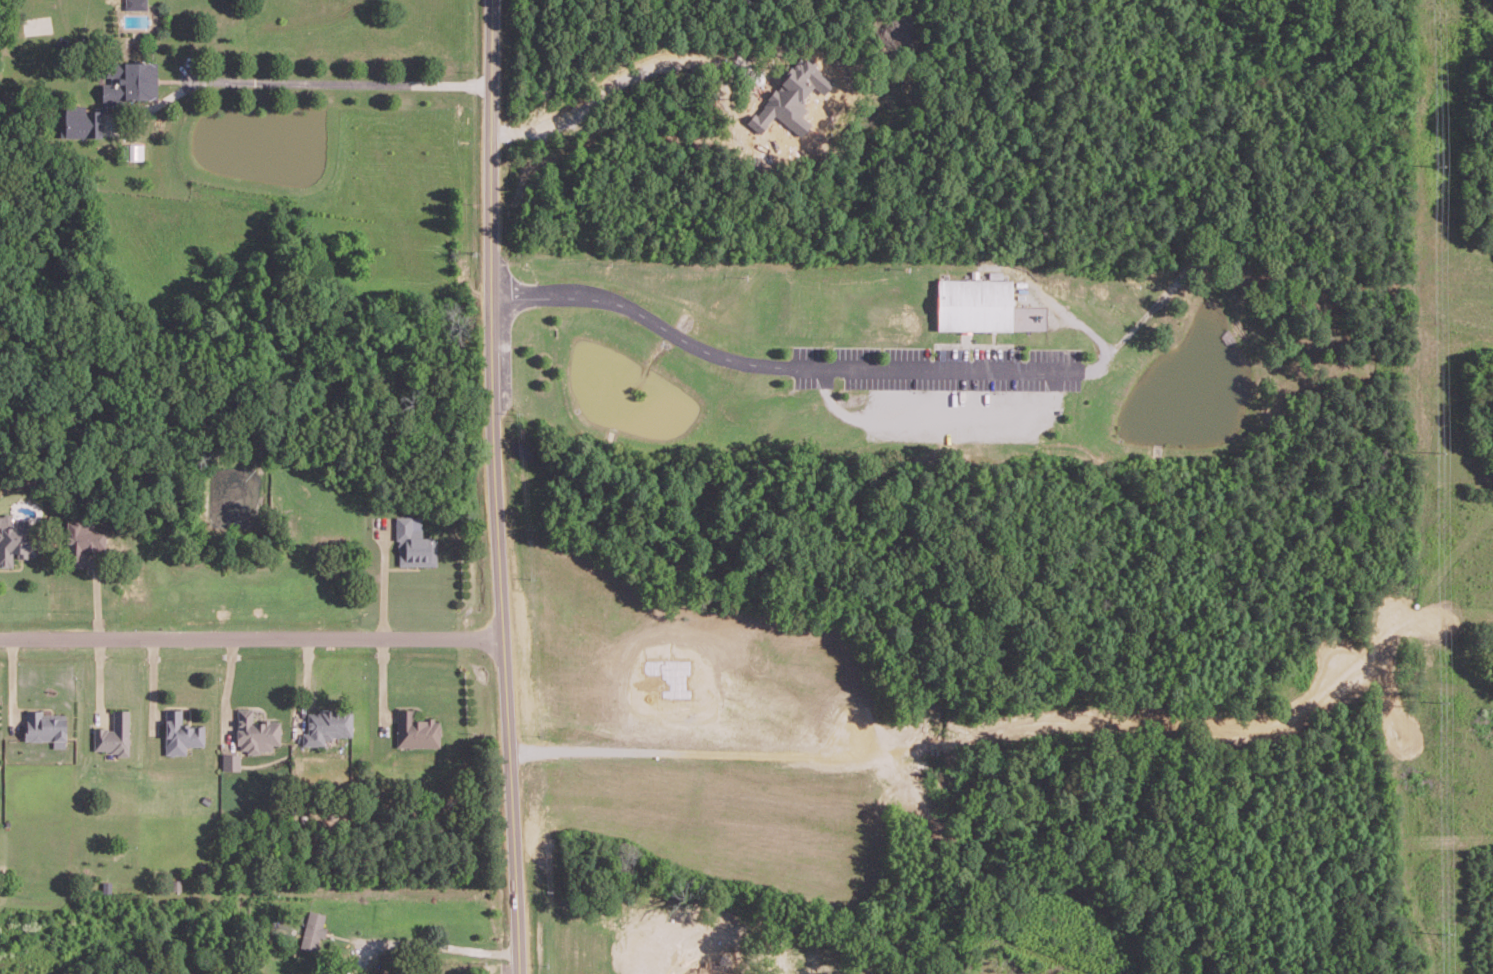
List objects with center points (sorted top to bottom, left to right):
building: (136, 4)
road: (632, 74)
building: (128, 81)
road: (339, 83)
building: (789, 96)
building: (133, 152)
power tower: (1437, 162)
building: (974, 300)
parking lot: (940, 360)
road: (768, 363)
parking lot: (962, 407)
power tower: (1439, 447)
road: (494, 487)
building: (83, 538)
building: (13, 540)
building: (414, 542)
road: (252, 636)
building: (45, 726)
building: (416, 729)
building: (180, 732)
building: (255, 732)
building: (113, 734)
building: (231, 761)
power tower: (1444, 923)
building: (314, 931)
road: (438, 944)

